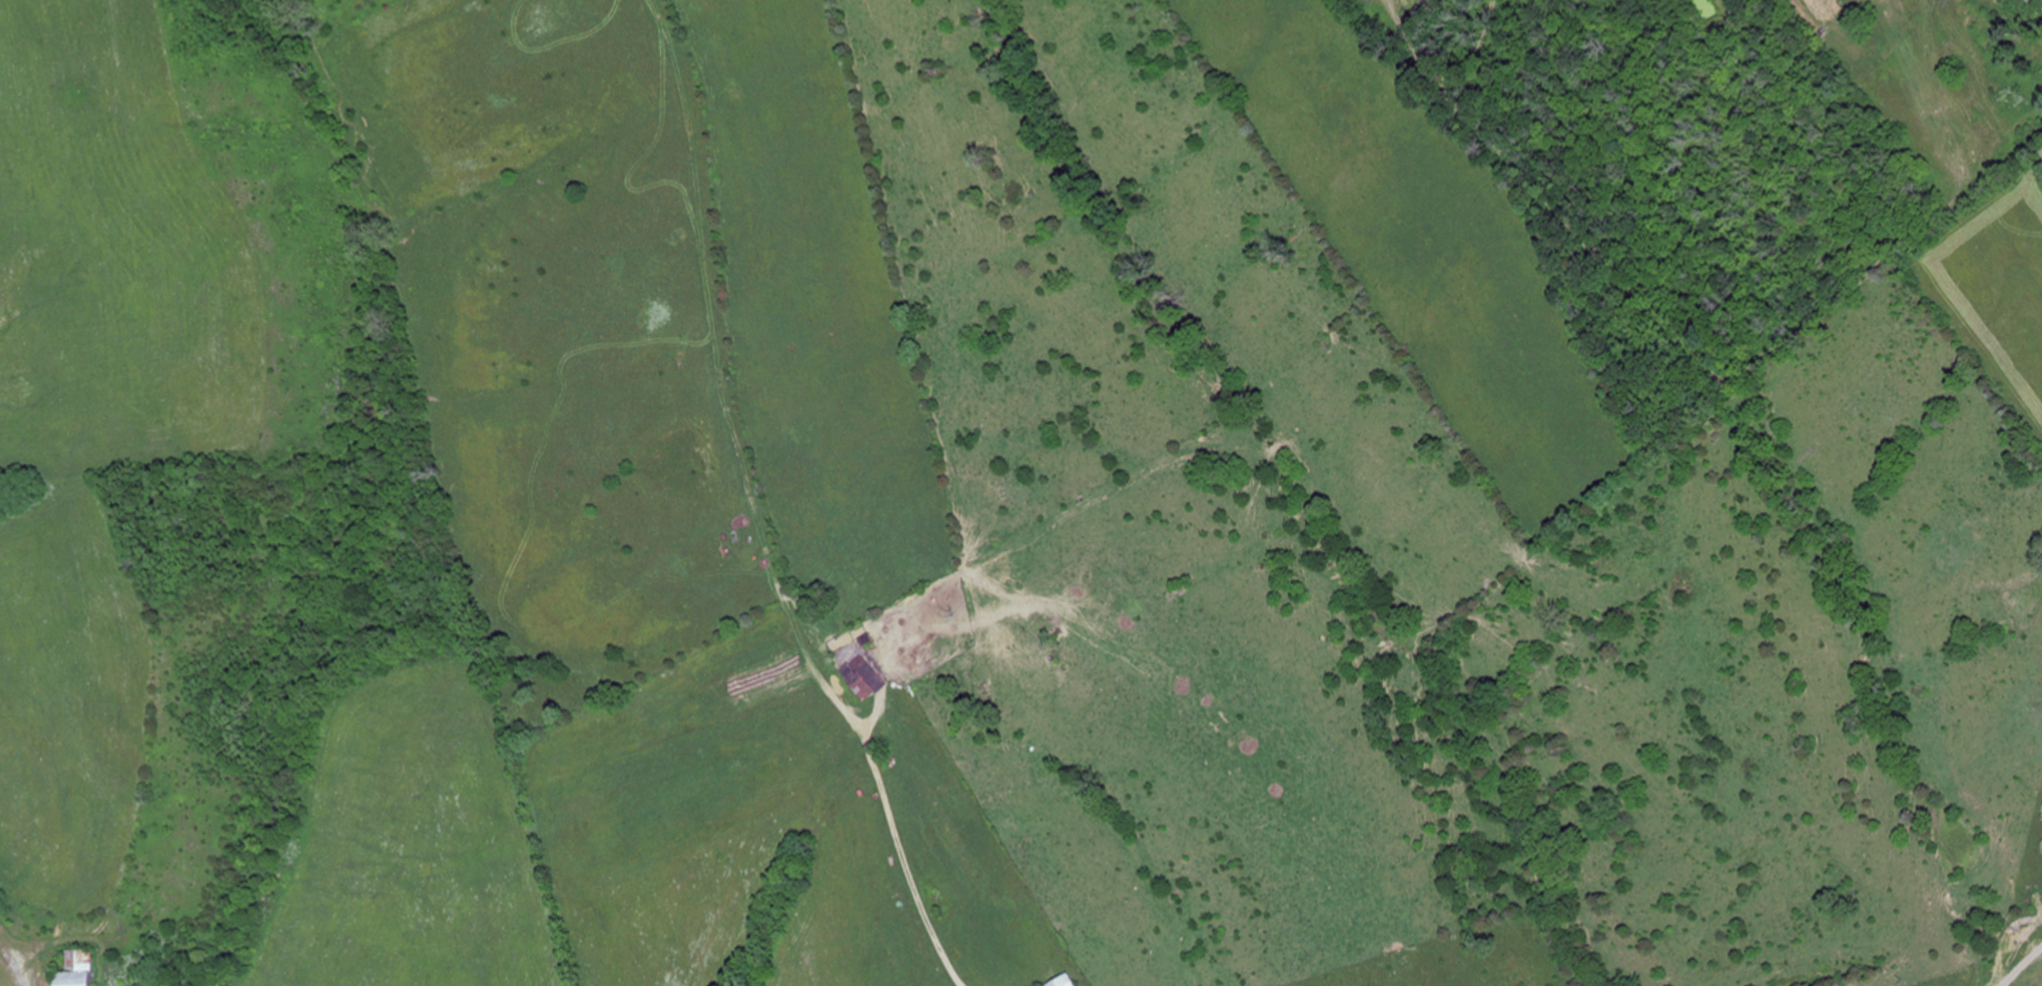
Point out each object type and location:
building: (855, 664)
road: (949, 834)
road: (20, 958)
building: (77, 968)
building: (1064, 981)

